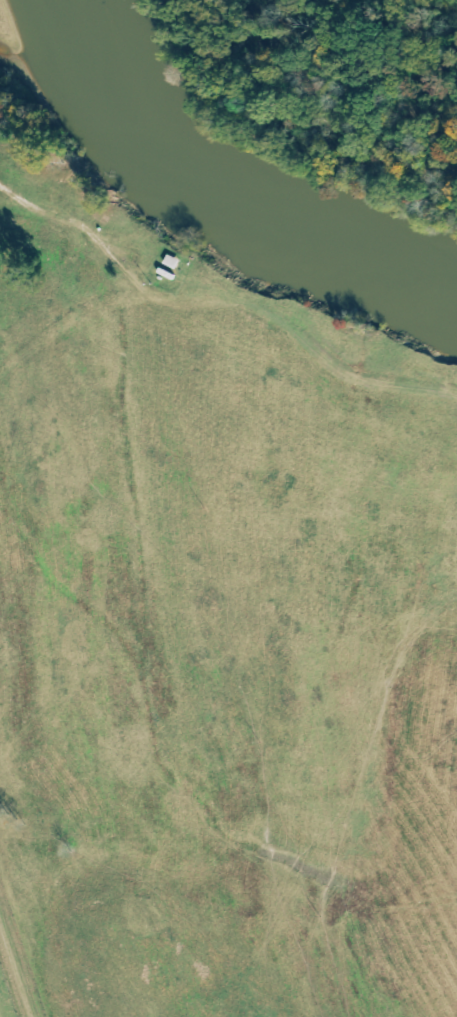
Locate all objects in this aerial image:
river: (225, 184)
road: (80, 228)
road: (208, 365)
road: (6, 784)
road: (12, 973)

